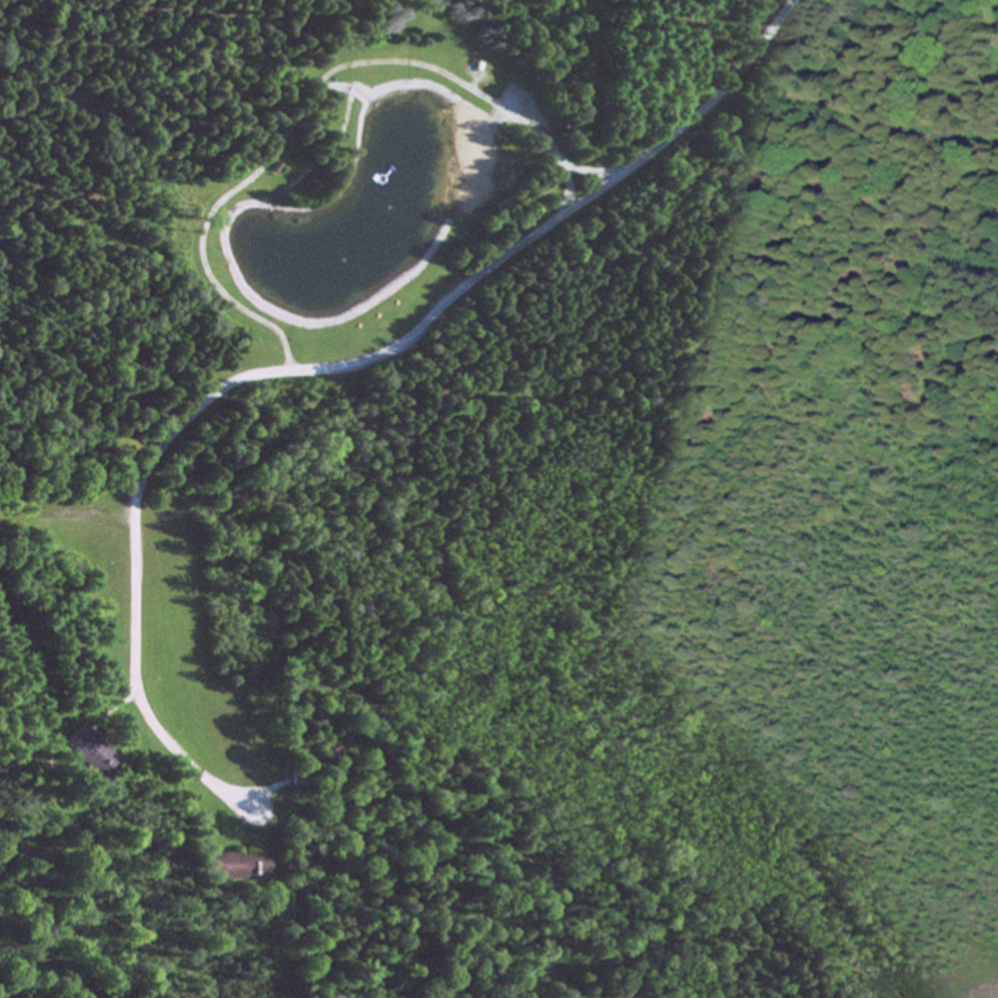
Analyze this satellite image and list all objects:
road: (333, 370)
building: (270, 620)
building: (89, 752)
building: (233, 867)

